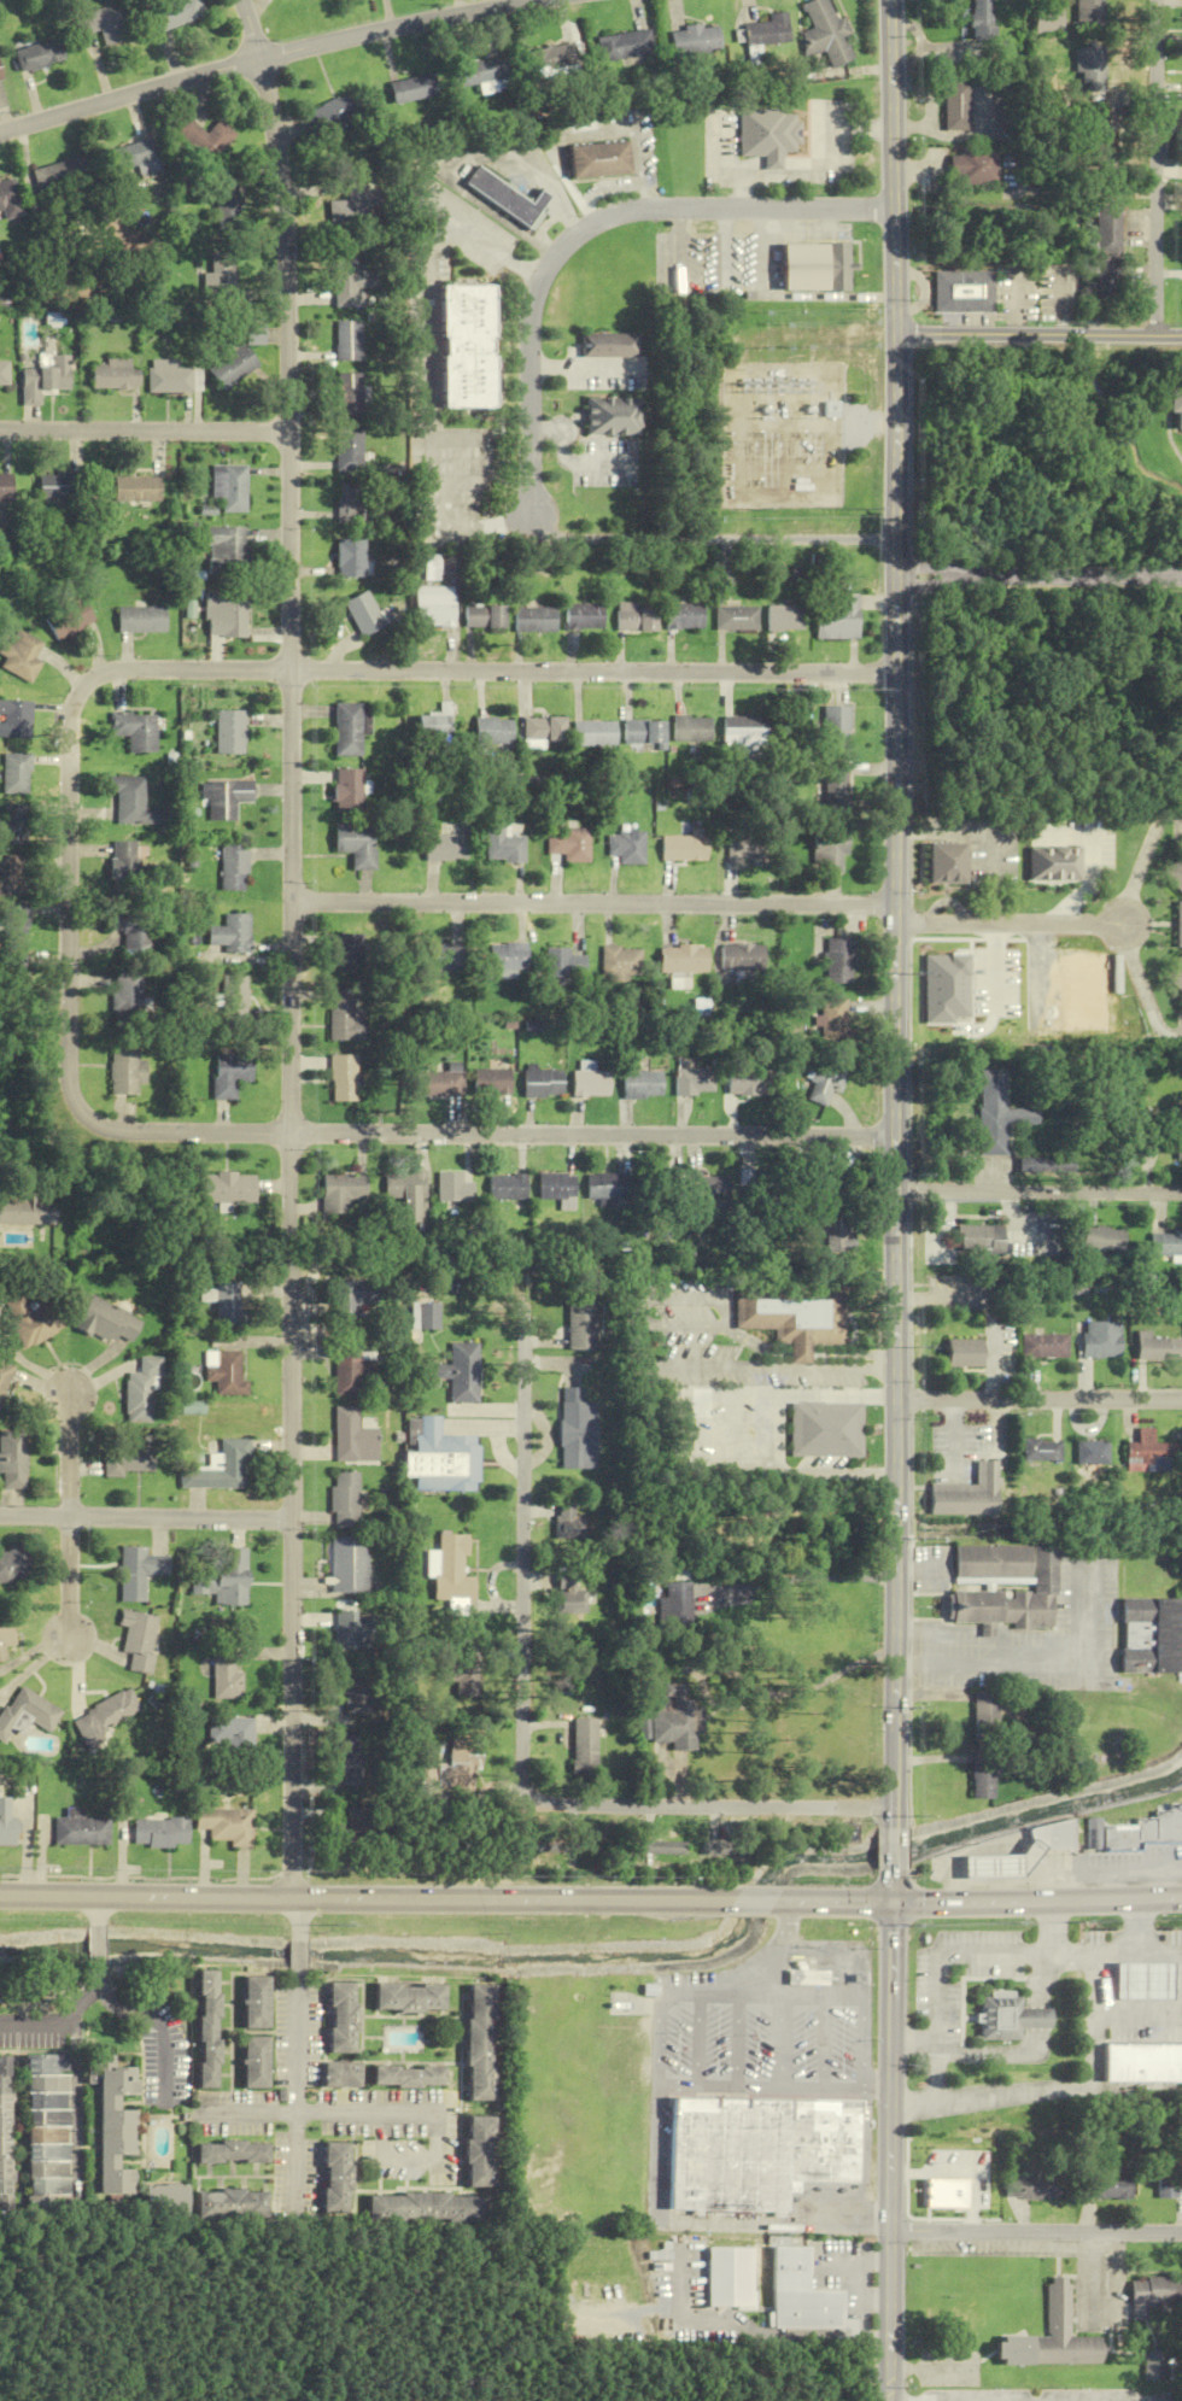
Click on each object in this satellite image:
building: (1089, 12)
building: (176, 13)
building: (981, 19)
building: (1047, 21)
building: (104, 24)
building: (766, 31)
building: (825, 34)
building: (695, 41)
building: (625, 46)
building: (41, 54)
road: (262, 59)
building: (554, 59)
building: (1093, 69)
building: (485, 72)
building: (1, 74)
building: (417, 88)
building: (955, 105)
building: (338, 110)
building: (767, 135)
building: (209, 137)
building: (1106, 147)
building: (135, 157)
building: (601, 160)
road: (1154, 164)
building: (972, 166)
building: (64, 172)
building: (509, 197)
building: (10, 199)
building: (229, 201)
building: (356, 204)
building: (1107, 226)
road: (579, 232)
building: (813, 267)
building: (222, 279)
building: (352, 281)
building: (1107, 286)
building: (962, 292)
building: (254, 330)
road: (1037, 330)
building: (349, 340)
building: (609, 345)
building: (467, 346)
building: (233, 368)
building: (4, 373)
building: (115, 375)
building: (168, 377)
building: (45, 379)
building: (347, 396)
building: (1176, 403)
building: (612, 416)
road: (144, 432)
building: (346, 449)
building: (5, 486)
building: (53, 487)
building: (228, 488)
building: (135, 490)
building: (349, 503)
road: (713, 538)
building: (224, 550)
building: (350, 557)
road: (1038, 576)
building: (432, 605)
building: (228, 610)
building: (362, 613)
building: (484, 616)
building: (583, 616)
building: (684, 616)
building: (837, 616)
building: (66, 617)
building: (636, 617)
building: (139, 619)
building: (736, 619)
building: (785, 619)
building: (533, 620)
building: (18, 656)
road: (264, 669)
building: (13, 719)
building: (431, 726)
building: (344, 730)
building: (692, 730)
building: (836, 730)
building: (133, 731)
building: (228, 732)
building: (491, 732)
building: (540, 732)
building: (644, 732)
building: (745, 732)
building: (593, 733)
building: (13, 774)
building: (837, 787)
building: (346, 791)
building: (223, 798)
building: (131, 802)
road: (1177, 815)
building: (13, 830)
road: (911, 835)
road: (984, 835)
road: (1064, 835)
building: (355, 844)
building: (502, 844)
building: (569, 844)
building: (748, 845)
building: (626, 847)
building: (685, 847)
building: (443, 848)
building: (831, 849)
road: (1093, 853)
building: (121, 861)
building: (947, 862)
building: (1055, 863)
building: (232, 868)
building: (1176, 873)
building: (12, 876)
road: (1078, 897)
road: (593, 903)
road: (896, 914)
road: (1010, 924)
building: (1180, 924)
building: (13, 925)
road: (1124, 925)
building: (130, 929)
building: (229, 936)
road: (291, 947)
building: (347, 951)
building: (508, 956)
building: (743, 956)
building: (841, 956)
building: (443, 959)
building: (684, 959)
building: (563, 964)
building: (621, 964)
building: (1176, 973)
building: (127, 992)
building: (233, 996)
building: (344, 1019)
building: (833, 1020)
road: (1178, 1037)
building: (128, 1072)
building: (230, 1073)
building: (344, 1078)
building: (492, 1082)
building: (695, 1082)
building: (543, 1083)
building: (592, 1083)
building: (750, 1083)
building: (826, 1083)
building: (435, 1084)
building: (643, 1084)
building: (997, 1113)
road: (492, 1135)
building: (1178, 1140)
building: (1046, 1166)
building: (749, 1178)
road: (273, 1185)
building: (228, 1187)
building: (508, 1187)
building: (455, 1188)
building: (607, 1188)
building: (343, 1191)
road: (1040, 1191)
building: (406, 1193)
building: (838, 1234)
building: (1102, 1240)
building: (979, 1241)
building: (1165, 1243)
building: (353, 1296)
building: (233, 1305)
building: (792, 1314)
building: (426, 1316)
building: (34, 1320)
building: (109, 1320)
building: (581, 1323)
building: (1099, 1339)
building: (1042, 1345)
building: (1154, 1347)
building: (962, 1352)
building: (353, 1370)
building: (461, 1372)
building: (230, 1374)
building: (5, 1380)
building: (145, 1389)
road: (1038, 1399)
building: (193, 1407)
building: (575, 1429)
building: (824, 1429)
building: (355, 1437)
parking lot: (966, 1441)
building: (1038, 1450)
building: (1089, 1452)
building: (1147, 1453)
road: (70, 1454)
building: (14, 1458)
building: (129, 1459)
building: (441, 1459)
building: (223, 1468)
building: (965, 1494)
building: (347, 1499)
road: (145, 1518)
building: (567, 1523)
road: (523, 1552)
building: (990, 1563)
building: (14, 1564)
building: (351, 1564)
building: (450, 1569)
building: (140, 1571)
road: (71, 1580)
building: (226, 1580)
building: (990, 1582)
building: (568, 1595)
building: (1011, 1598)
building: (674, 1606)
building: (357, 1630)
building: (984, 1630)
building: (6, 1635)
building: (1153, 1635)
building: (140, 1640)
building: (228, 1674)
building: (461, 1677)
building: (1119, 1685)
building: (352, 1693)
building: (31, 1712)
building: (984, 1712)
building: (107, 1714)
building: (671, 1718)
building: (229, 1731)
building: (583, 1747)
building: (350, 1761)
building: (454, 1767)
building: (982, 1776)
road: (709, 1806)
building: (8, 1825)
building: (229, 1825)
building: (82, 1829)
building: (356, 1829)
building: (1146, 1829)
building: (163, 1832)
building: (844, 1833)
building: (1093, 1833)
building: (1053, 1834)
building: (662, 1847)
building: (725, 1849)
road: (896, 1850)
building: (1030, 1854)
building: (991, 1866)
road: (1114, 1876)
road: (1001, 1879)
road: (895, 1886)
road: (1047, 1890)
road: (956, 1891)
road: (148, 1897)
road: (515, 1899)
road: (755, 1901)
road: (1037, 1901)
road: (782, 1902)
road: (841, 1902)
traffic signals: (895, 1903)
road: (100, 1911)
road: (302, 1920)
road: (1047, 1927)
road: (1139, 1927)
road: (785, 1932)
road: (101, 1944)
road: (981, 1955)
road: (1052, 1955)
road: (1129, 1955)
road: (302, 1956)
river: (620, 1957)
building: (798, 1966)
road: (757, 1978)
road: (773, 1978)
building: (806, 1978)
building: (1143, 1980)
gas station: (1143, 1980)
road: (90, 1992)
road: (684, 1996)
road: (789, 1996)
road: (940, 1997)
building: (415, 1998)
road: (118, 2003)
building: (262, 2003)
building: (1001, 2018)
building: (1036, 2018)
building: (346, 2019)
road: (1168, 2020)
road: (39, 2024)
building: (215, 2031)
parking lot: (751, 2037)
road: (697, 2040)
road: (917, 2040)
road: (738, 2042)
road: (782, 2042)
road: (823, 2043)
road: (862, 2043)
building: (486, 2044)
road: (659, 2046)
road: (166, 2055)
building: (1142, 2061)
building: (261, 2063)
road: (938, 2072)
building: (345, 2077)
building: (411, 2078)
road: (774, 2087)
road: (300, 2090)
road: (1060, 2090)
road: (80, 2114)
road: (321, 2114)
building: (116, 2128)
building: (48, 2132)
building: (6, 2134)
building: (760, 2151)
road: (891, 2151)
building: (239, 2153)
building: (487, 2154)
road: (411, 2160)
building: (340, 2178)
building: (1032, 2184)
building: (1110, 2186)
building: (1170, 2186)
building: (168, 2201)
building: (238, 2204)
building: (429, 2208)
road: (708, 2221)
road: (1036, 2233)
building: (1058, 2280)
building: (806, 2296)
building: (1154, 2296)
building: (581, 2333)
building: (1053, 2336)
building: (999, 2349)
building: (1154, 2365)
road: (932, 2371)
road: (948, 2399)
road: (1061, 2399)

